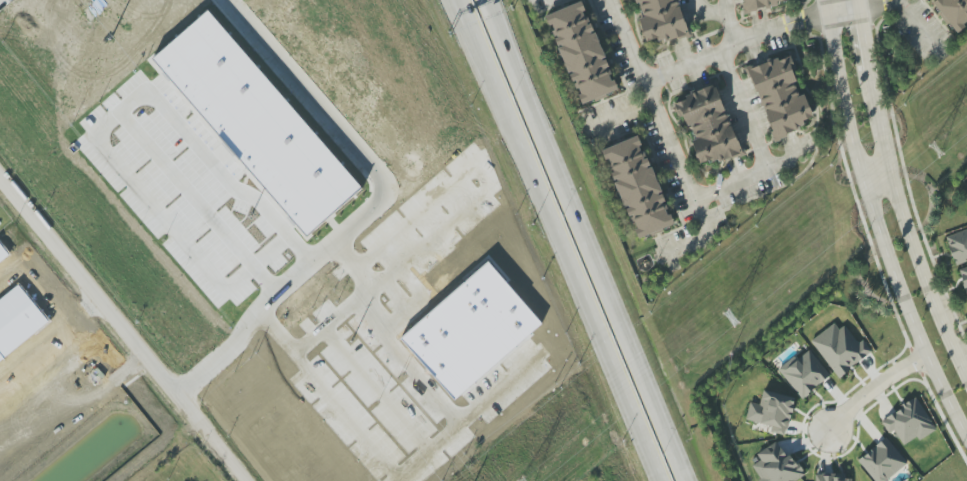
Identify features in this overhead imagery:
building: (762, 3)
road: (856, 4)
road: (873, 4)
building: (285, 7)
road: (823, 7)
road: (487, 8)
road: (488, 8)
road: (705, 11)
road: (841, 11)
road: (463, 12)
building: (953, 12)
building: (661, 20)
road: (727, 22)
road: (921, 26)
road: (734, 43)
building: (581, 52)
road: (307, 93)
building: (780, 96)
road: (138, 106)
road: (741, 110)
road: (620, 116)
road: (661, 117)
building: (260, 122)
building: (707, 125)
power tower: (938, 147)
road: (752, 175)
road: (874, 175)
building: (637, 186)
road: (895, 197)
road: (877, 233)
road: (561, 240)
building: (958, 246)
road: (587, 248)
building: (3, 253)
building: (963, 277)
road: (278, 289)
power tower: (734, 316)
building: (18, 320)
road: (338, 325)
building: (481, 328)
road: (121, 329)
building: (840, 349)
building: (804, 373)
road: (870, 384)
building: (44, 388)
building: (772, 411)
building: (908, 422)
road: (430, 456)
building: (882, 461)
building: (775, 465)
building: (833, 478)

